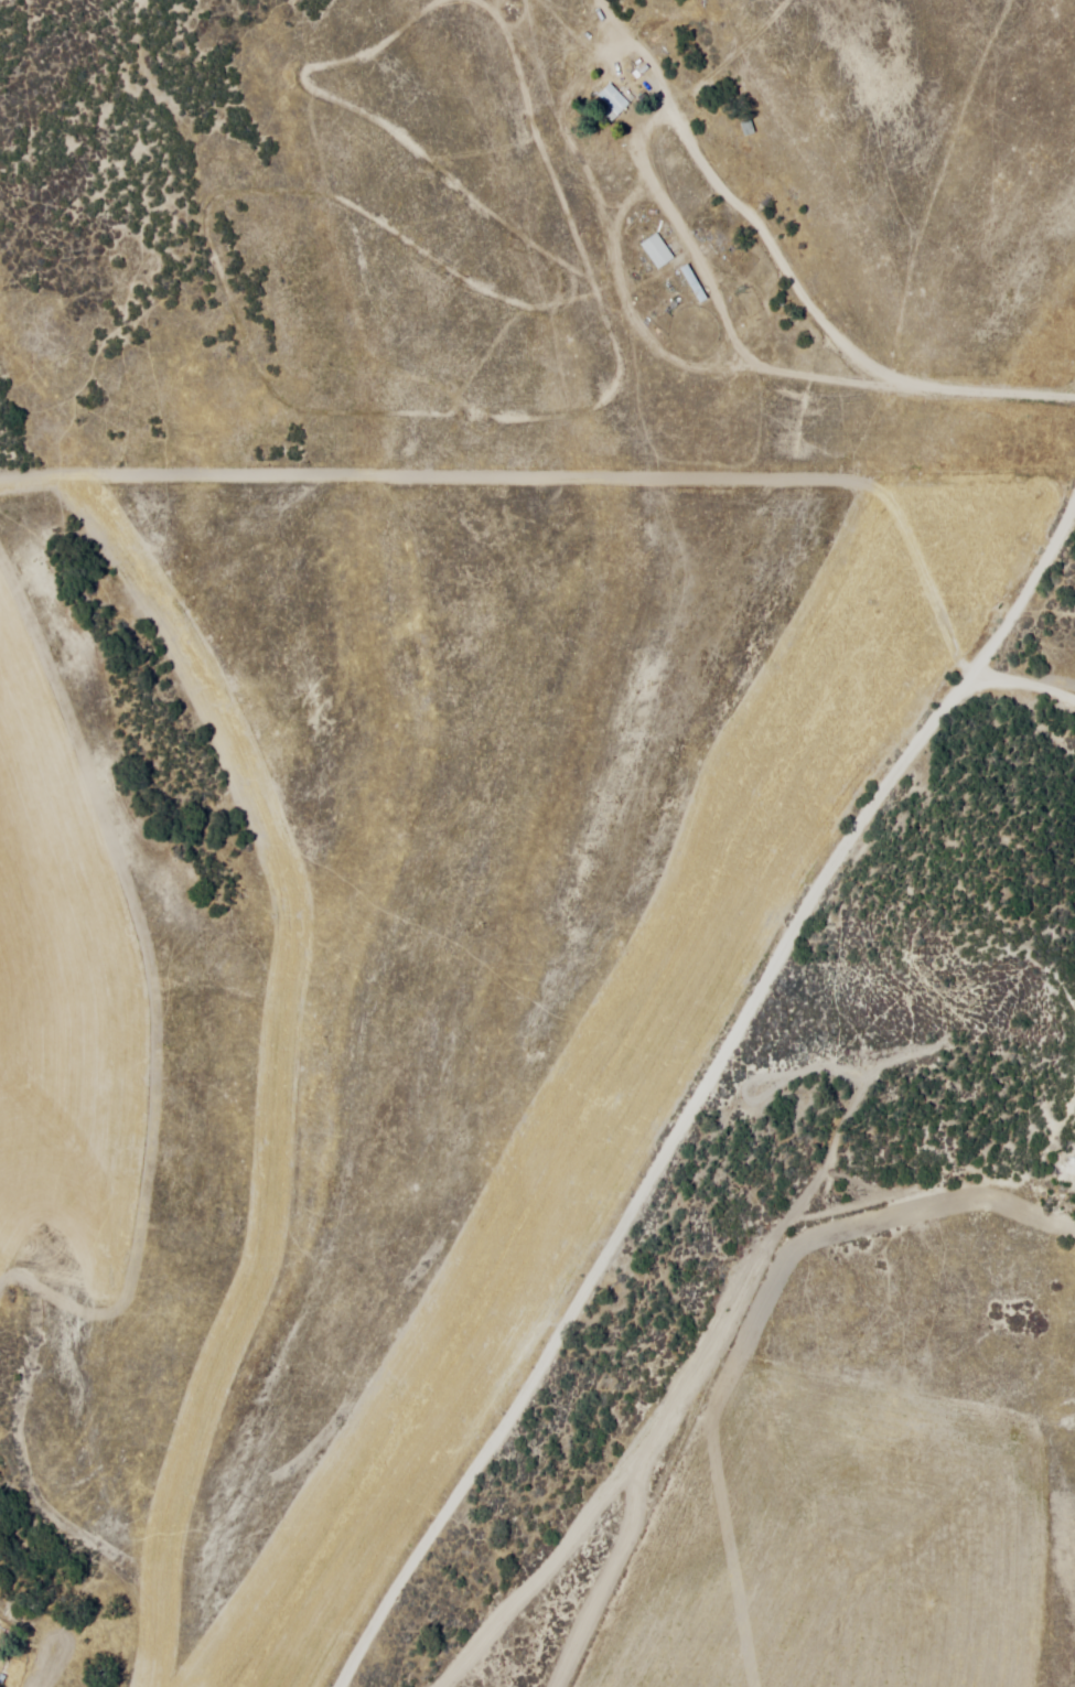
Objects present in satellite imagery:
building: (612, 103)
building: (656, 251)
building: (692, 283)
road: (818, 348)
road: (1025, 684)
road: (710, 1076)

